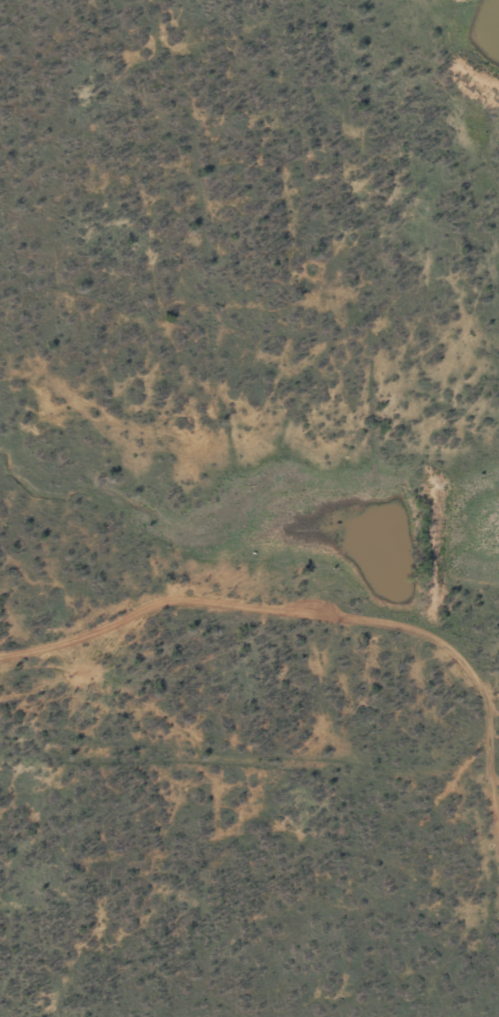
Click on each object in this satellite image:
road: (289, 618)

